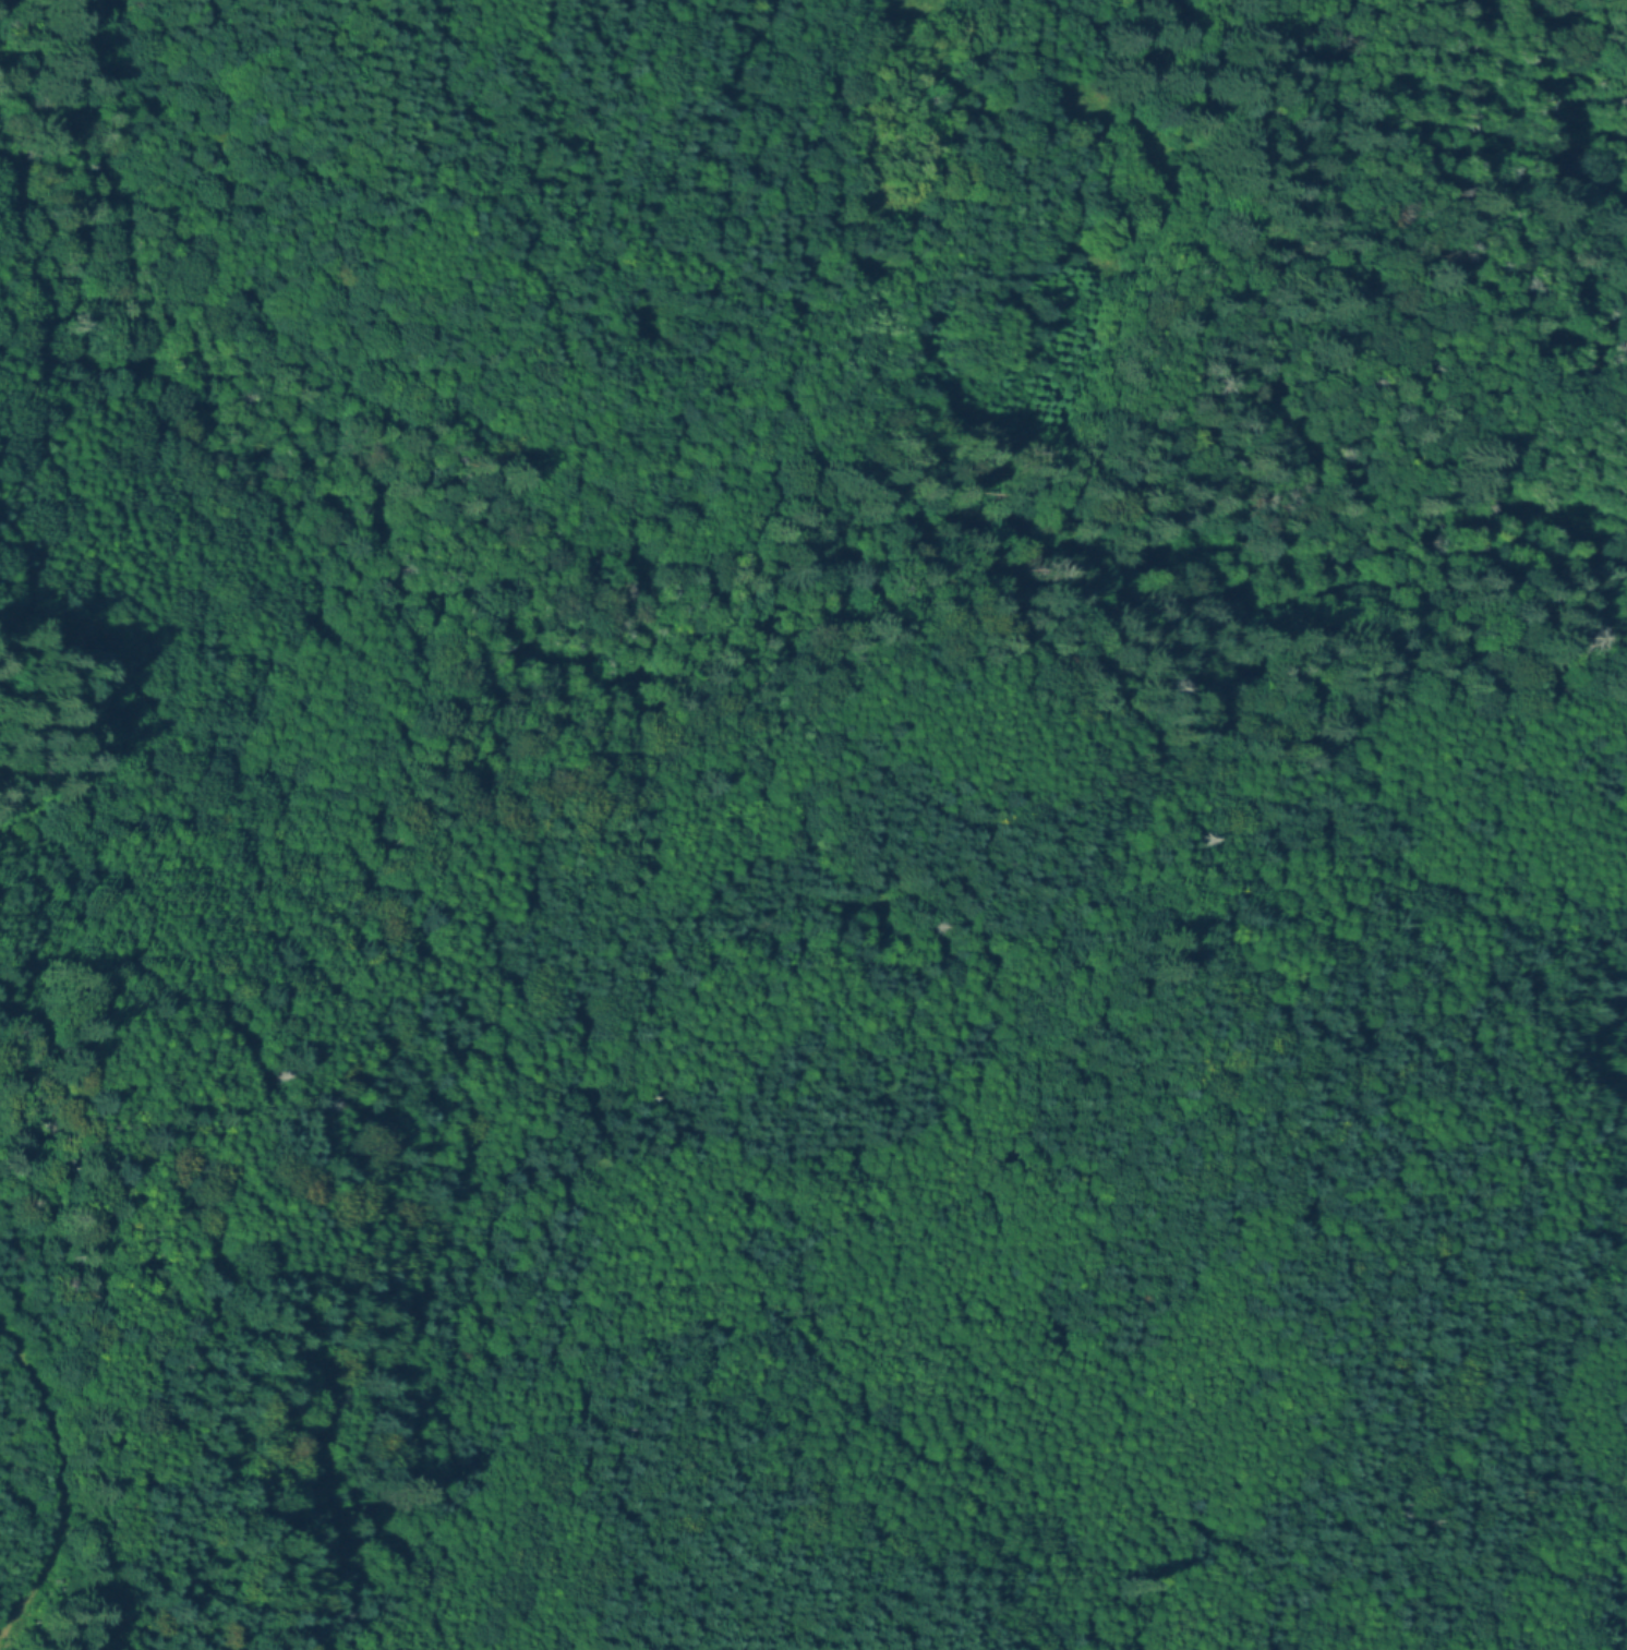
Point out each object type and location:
road: (53, 1480)

